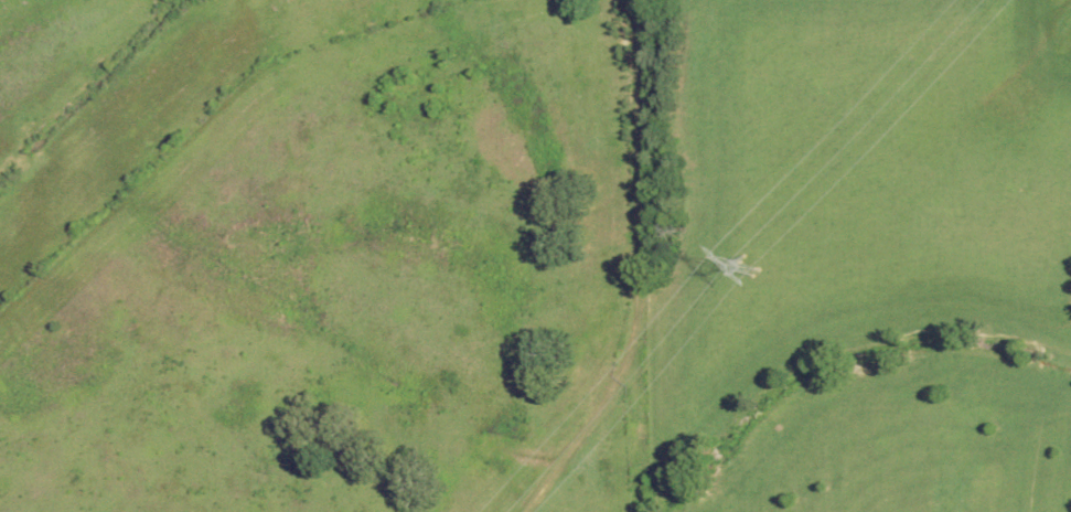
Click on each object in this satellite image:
power tower: (736, 254)

